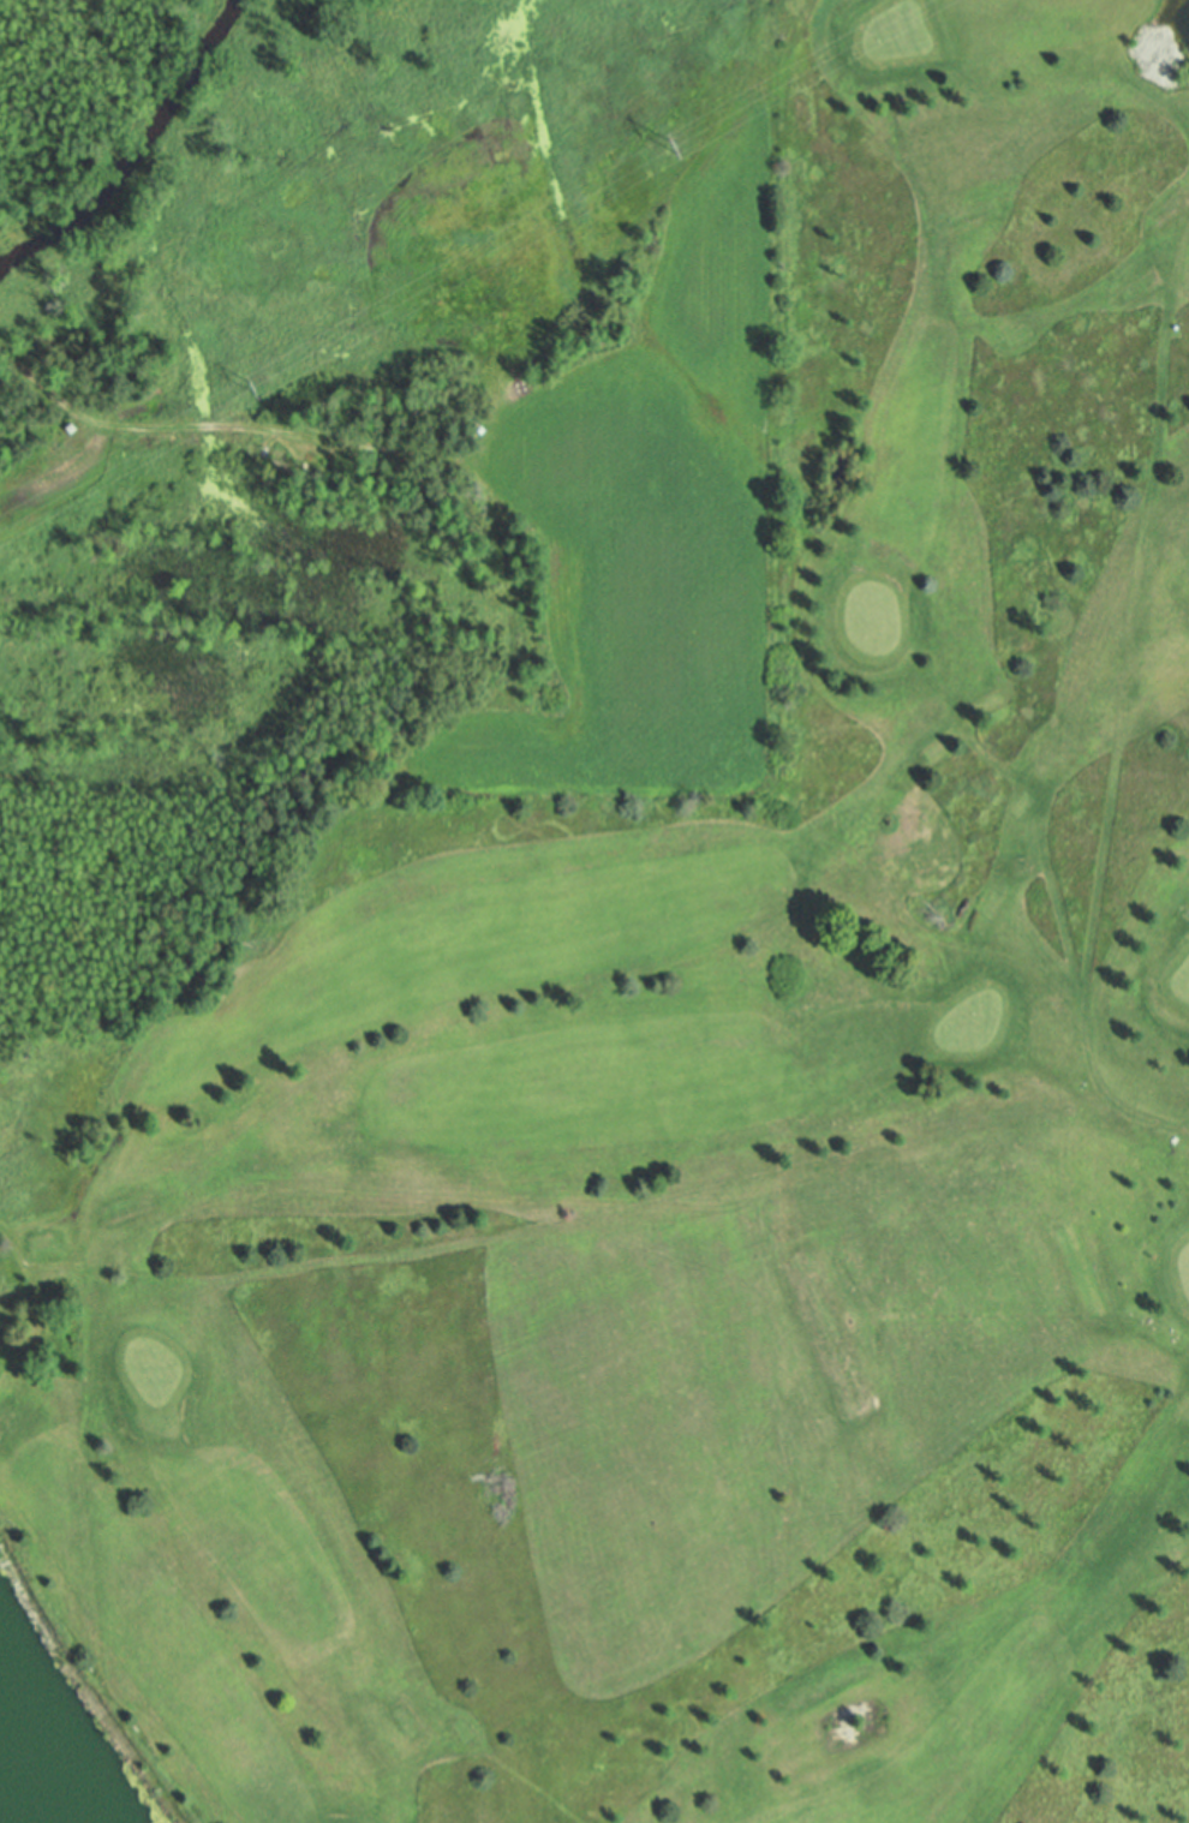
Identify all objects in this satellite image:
power tower: (663, 154)
power tower: (255, 389)
park: (691, 1106)
quarry: (62, 1722)

